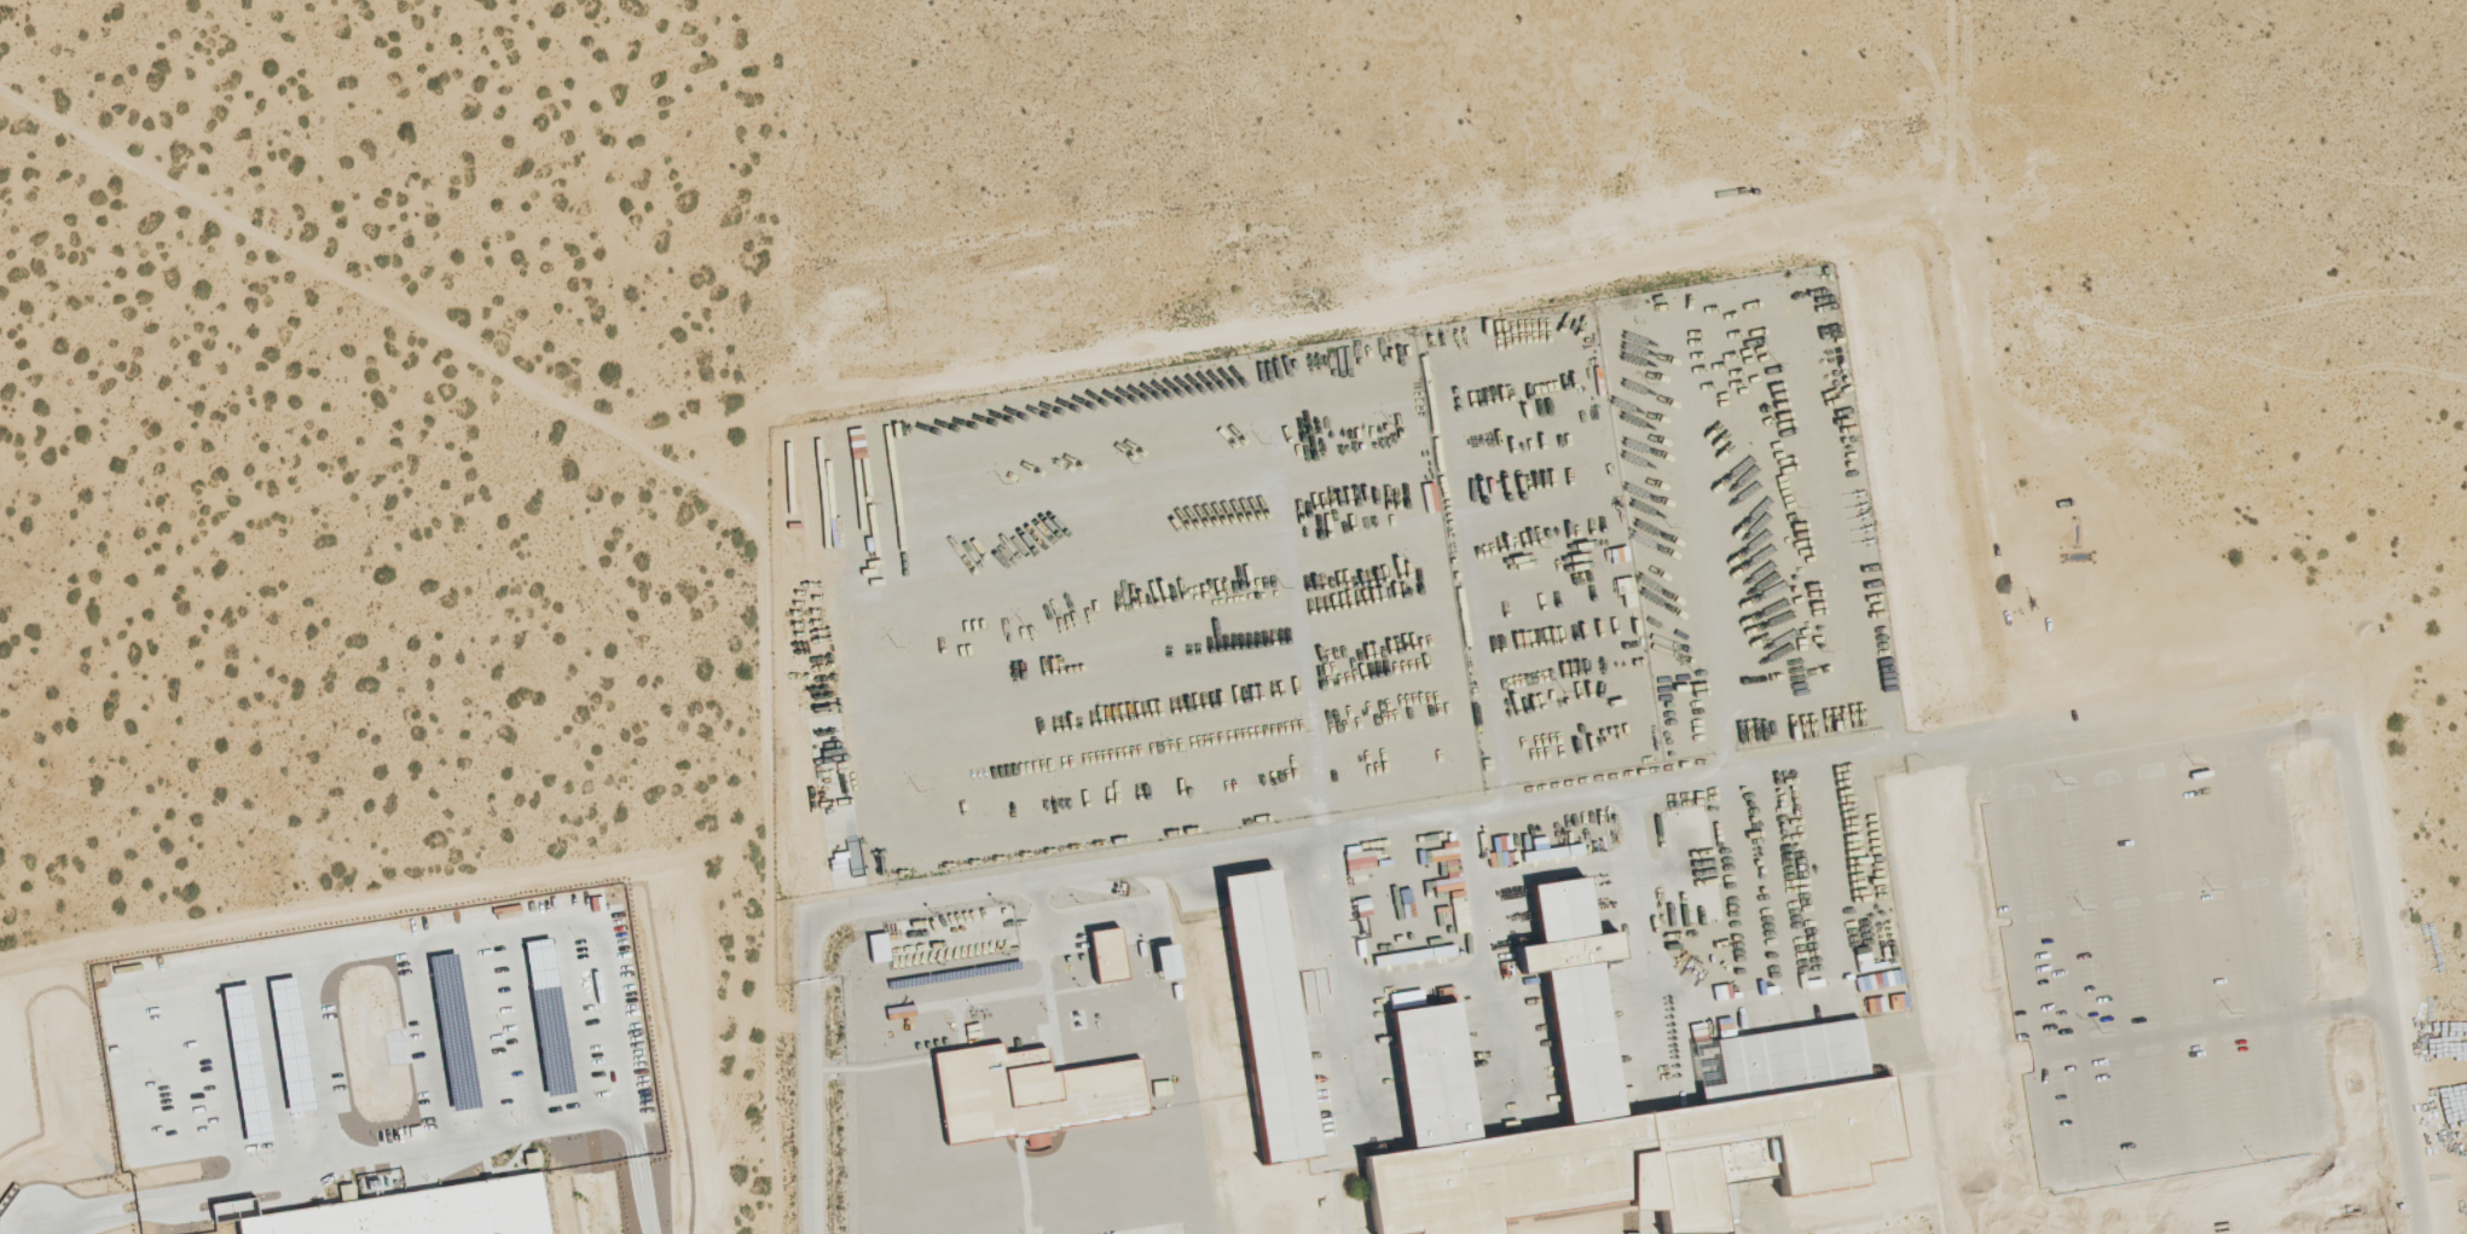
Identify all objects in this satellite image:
building: (879, 948)
building: (1107, 955)
building: (1166, 961)
building: (543, 975)
building: (1406, 1000)
building: (1269, 1015)
building: (1030, 1093)
building: (1618, 1111)
road: (392, 1154)
building: (532, 1159)
building: (416, 1212)
road: (2370, 1218)

